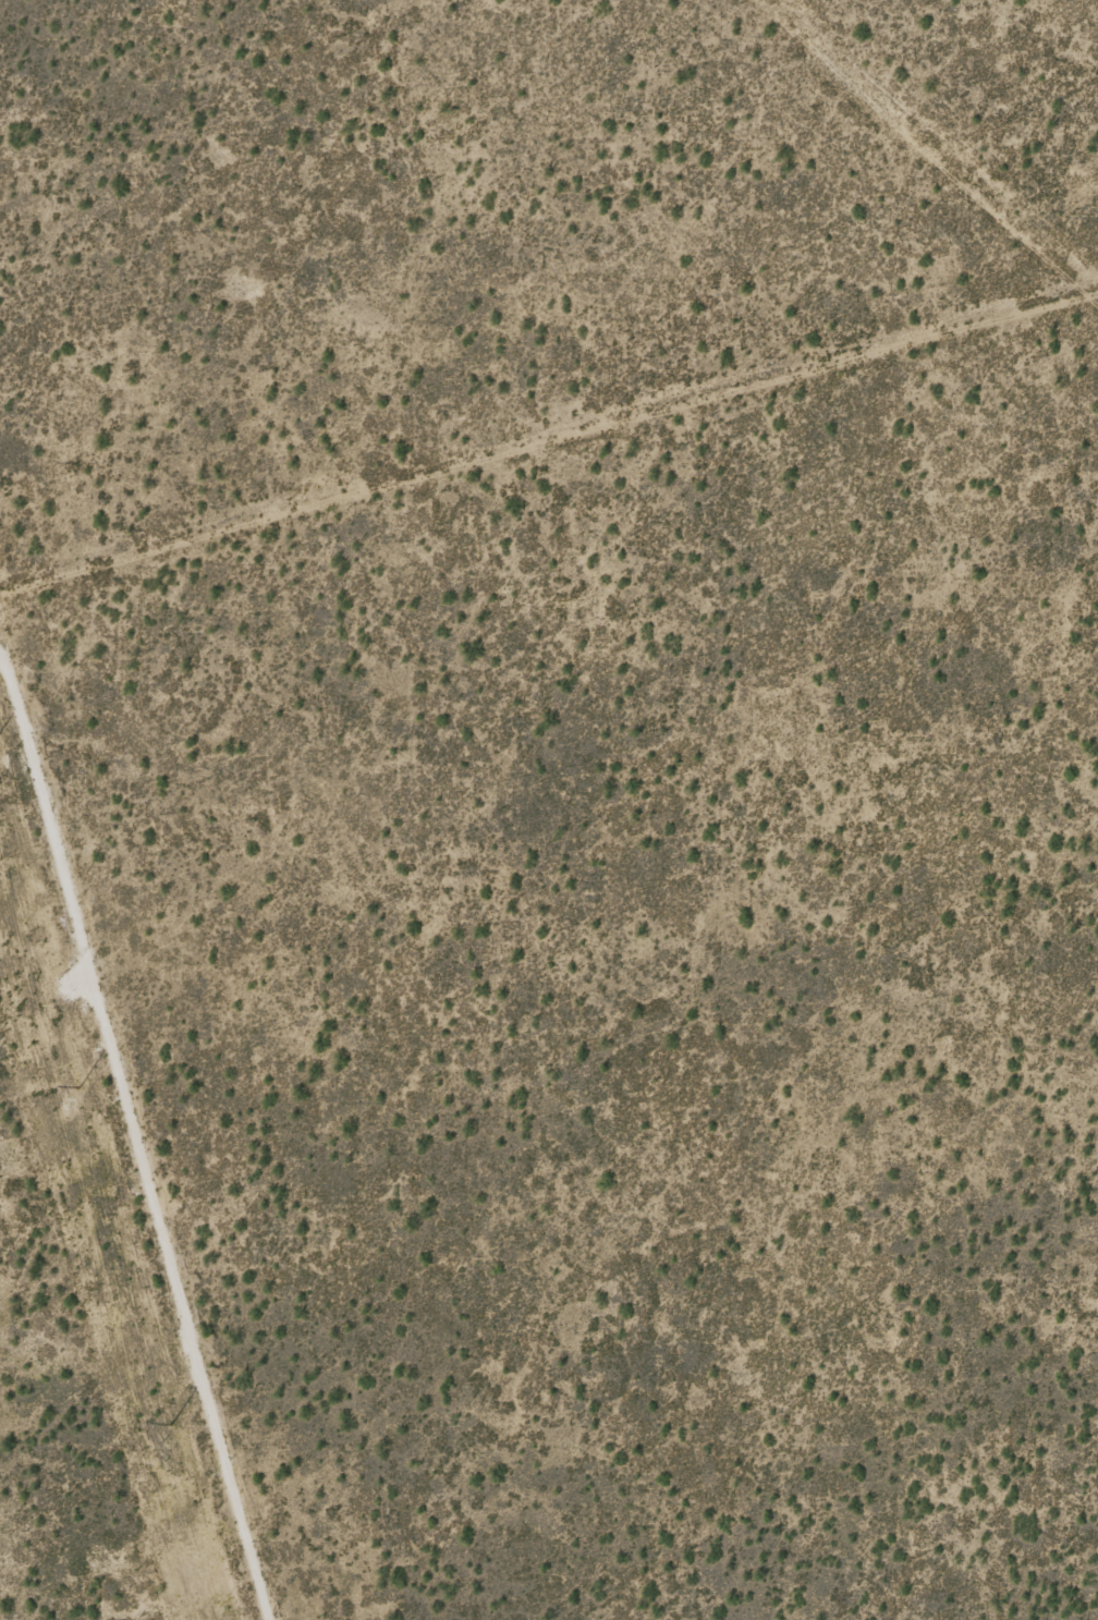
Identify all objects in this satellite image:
power tower: (80, 1088)
power tower: (169, 1424)

